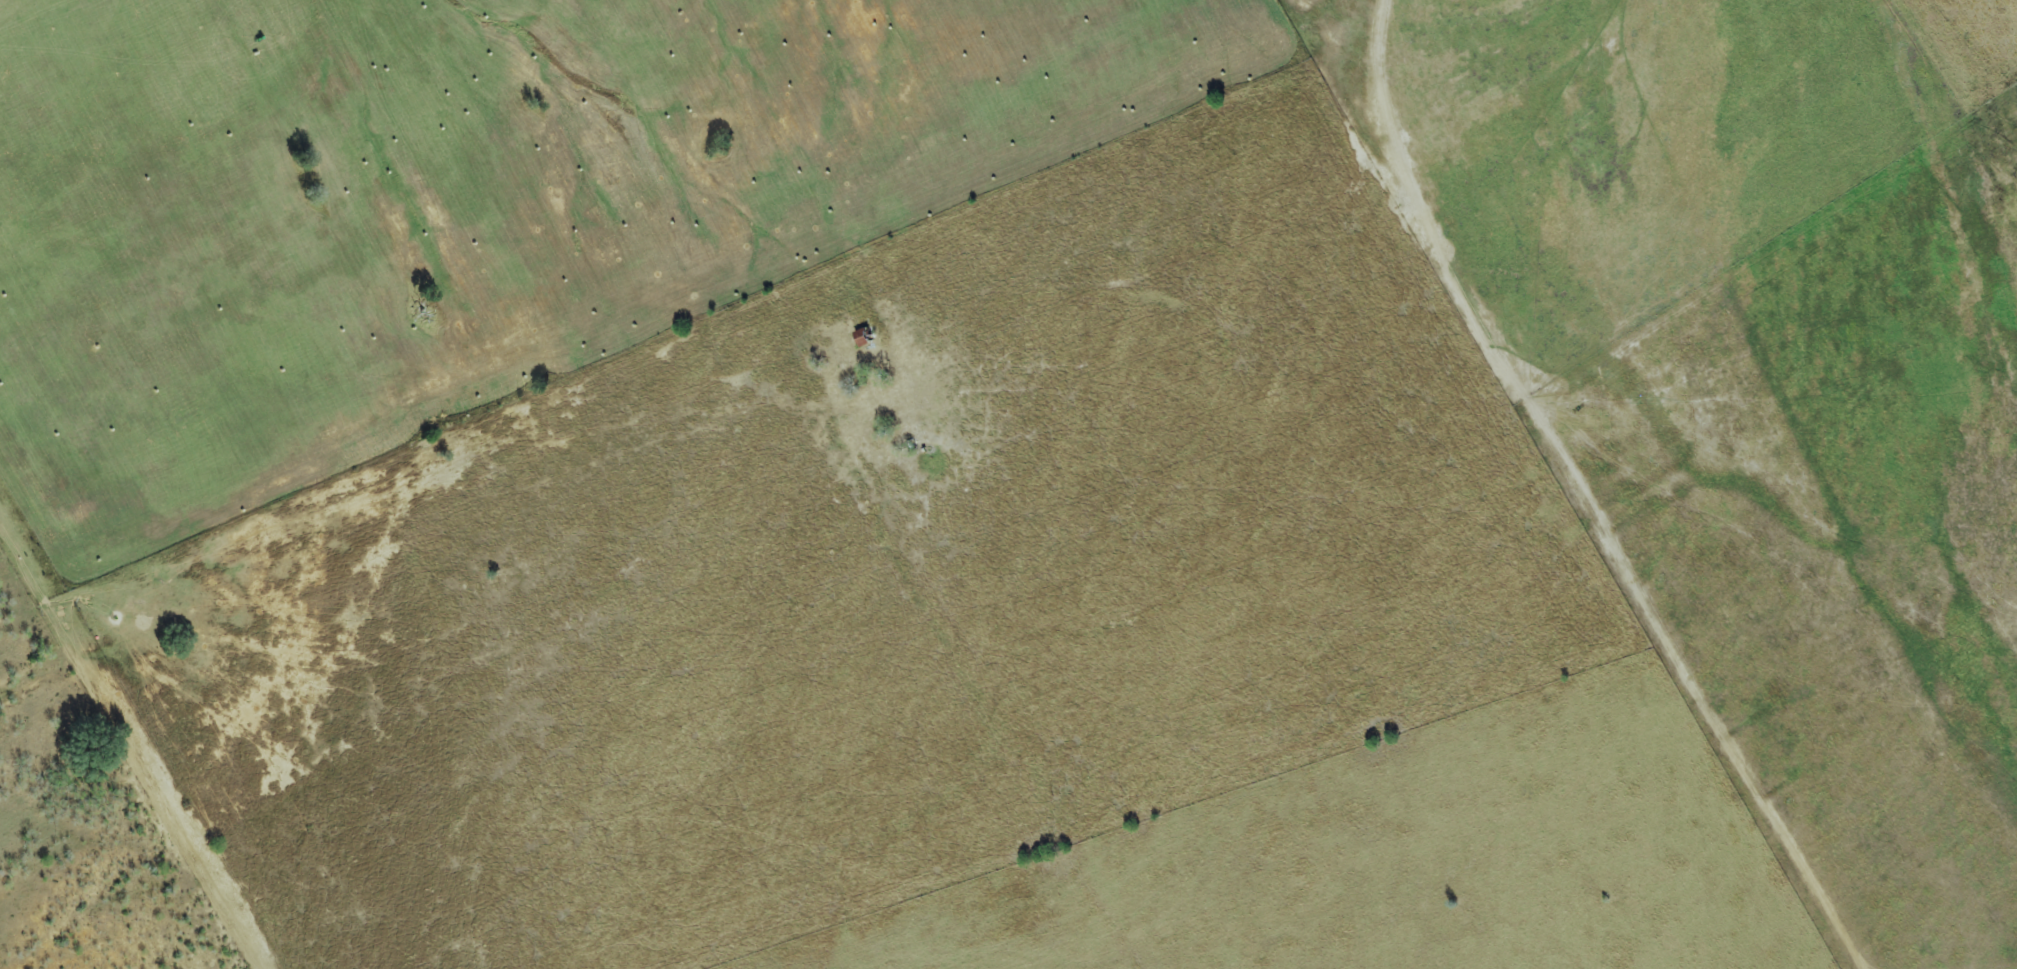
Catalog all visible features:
road: (1589, 493)
road: (995, 742)

